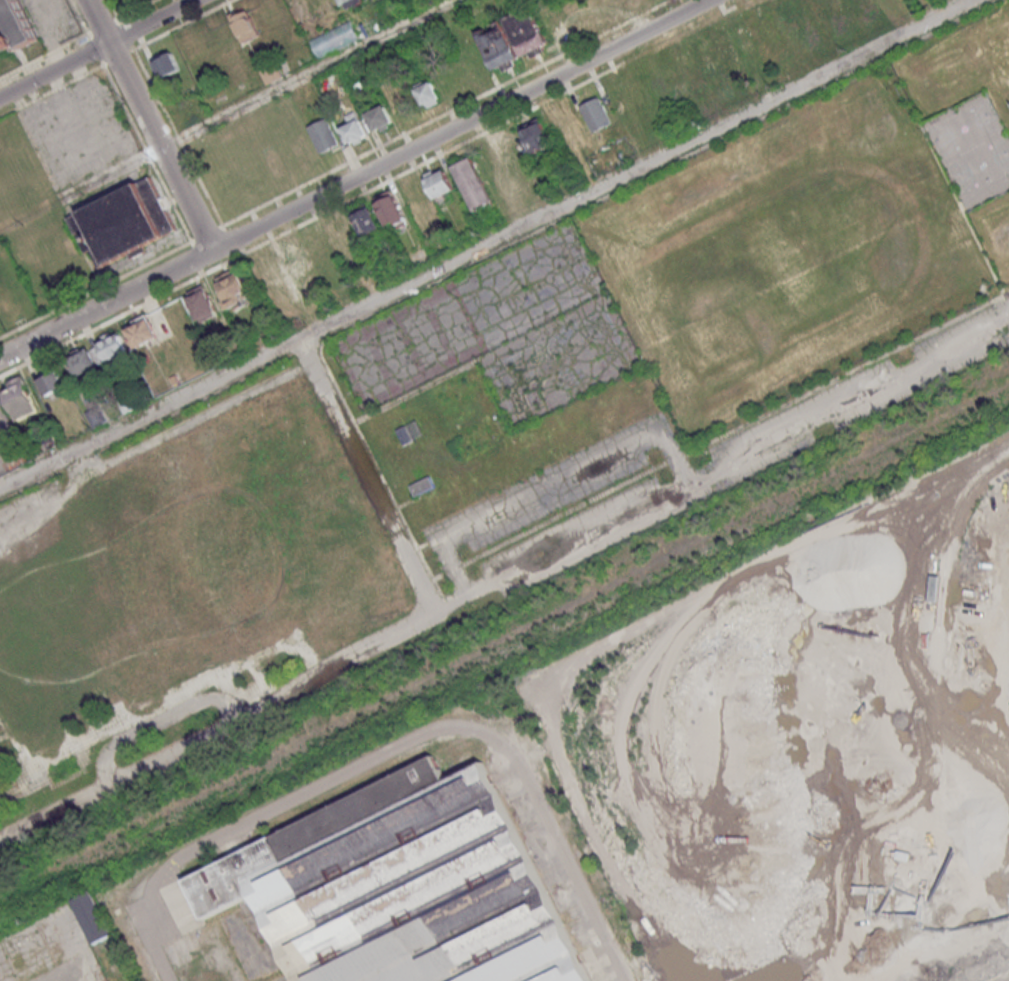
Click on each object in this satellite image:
building: (349, 3)
building: (816, 9)
building: (244, 25)
building: (20, 33)
building: (334, 38)
building: (512, 39)
road: (96, 48)
building: (727, 48)
building: (708, 52)
building: (166, 65)
building: (271, 71)
building: (428, 94)
road: (258, 99)
building: (403, 103)
building: (595, 114)
building: (378, 119)
road: (149, 125)
building: (353, 129)
building: (323, 135)
building: (536, 138)
park: (971, 148)
road: (942, 172)
road: (354, 178)
building: (439, 182)
building: (472, 183)
building: (392, 212)
building: (367, 221)
building: (122, 222)
road: (4, 228)
road: (492, 247)
building: (232, 288)
road: (607, 299)
building: (202, 303)
road: (950, 320)
road: (542, 325)
park: (696, 327)
building: (140, 331)
building: (98, 354)
building: (51, 383)
building: (20, 398)
road: (194, 415)
building: (404, 435)
building: (473, 439)
road: (721, 464)
road: (547, 478)
building: (422, 485)
road: (47, 501)
road: (960, 504)
building: (183, 568)
road: (350, 655)
road: (260, 681)
road: (238, 693)
road: (148, 706)
road: (158, 722)
road: (445, 725)
road: (5, 734)
road: (17, 788)
building: (968, 817)
building: (399, 886)
building: (90, 916)
road: (69, 939)
road: (68, 967)

